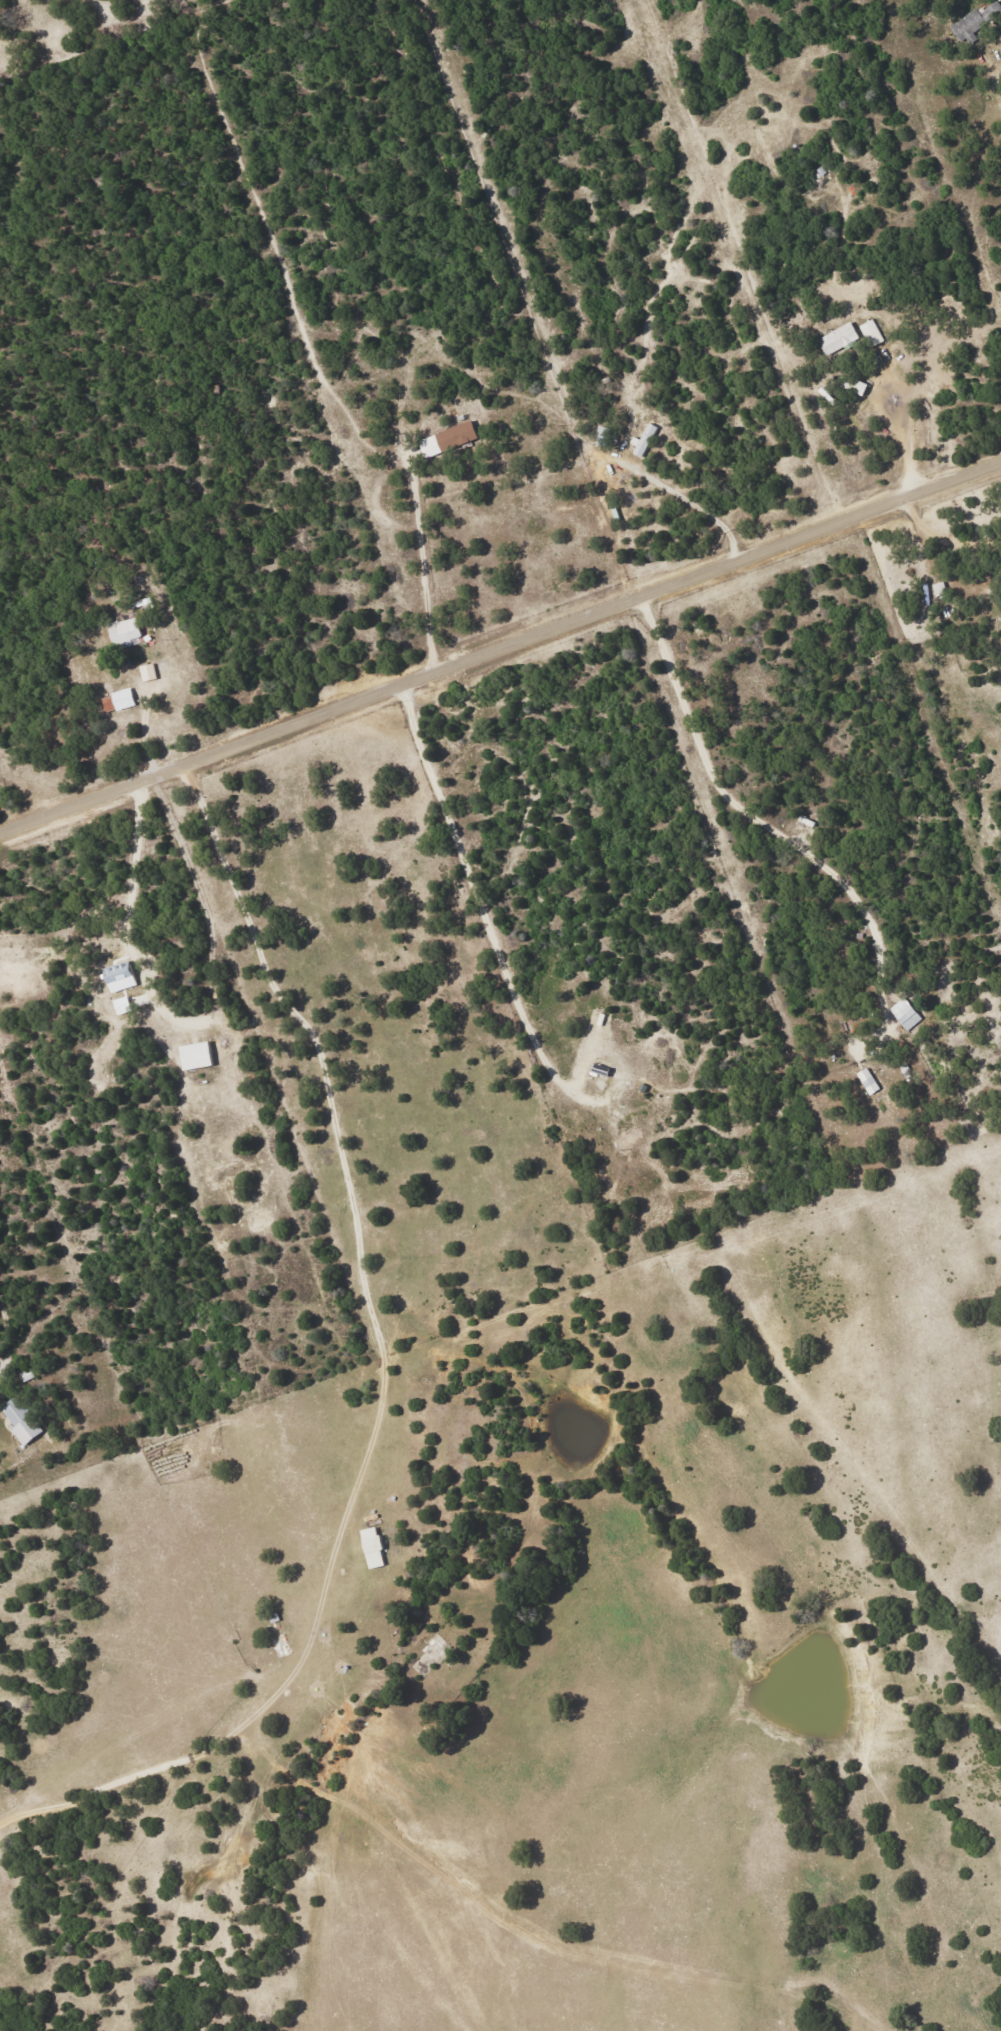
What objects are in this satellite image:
building: (975, 21)
road: (994, 87)
building: (871, 333)
building: (837, 338)
road: (882, 418)
road: (904, 426)
building: (446, 439)
building: (644, 441)
road: (701, 512)
road: (422, 580)
road: (887, 614)
building: (122, 633)
road: (500, 648)
building: (146, 672)
building: (116, 701)
road: (4, 850)
road: (129, 914)
building: (117, 977)
building: (120, 1005)
building: (904, 1014)
building: (193, 1056)
building: (867, 1081)
road: (380, 1378)
building: (19, 1421)
building: (371, 1549)
road: (487, 2005)

